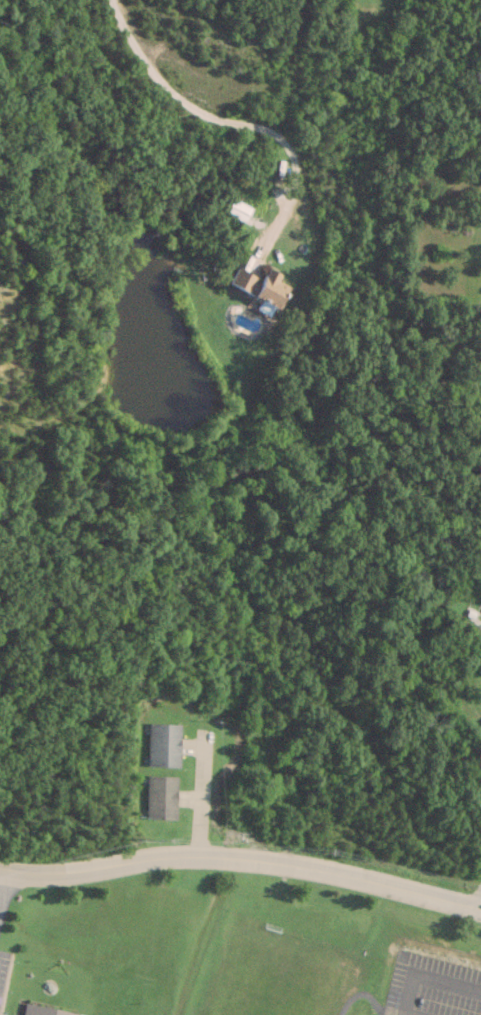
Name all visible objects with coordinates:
road: (222, 118)
building: (238, 210)
building: (260, 286)
building: (164, 745)
building: (160, 797)
road: (198, 797)
road: (242, 858)
road: (4, 885)
parking lot: (3, 968)
park: (284, 974)
road: (424, 979)
parking lot: (433, 989)
building: (39, 1011)

